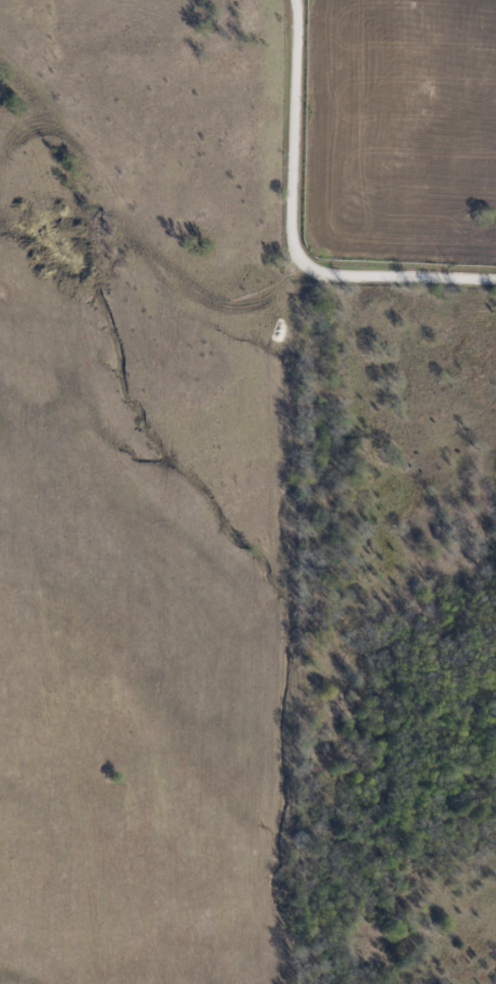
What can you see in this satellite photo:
road: (291, 231)

